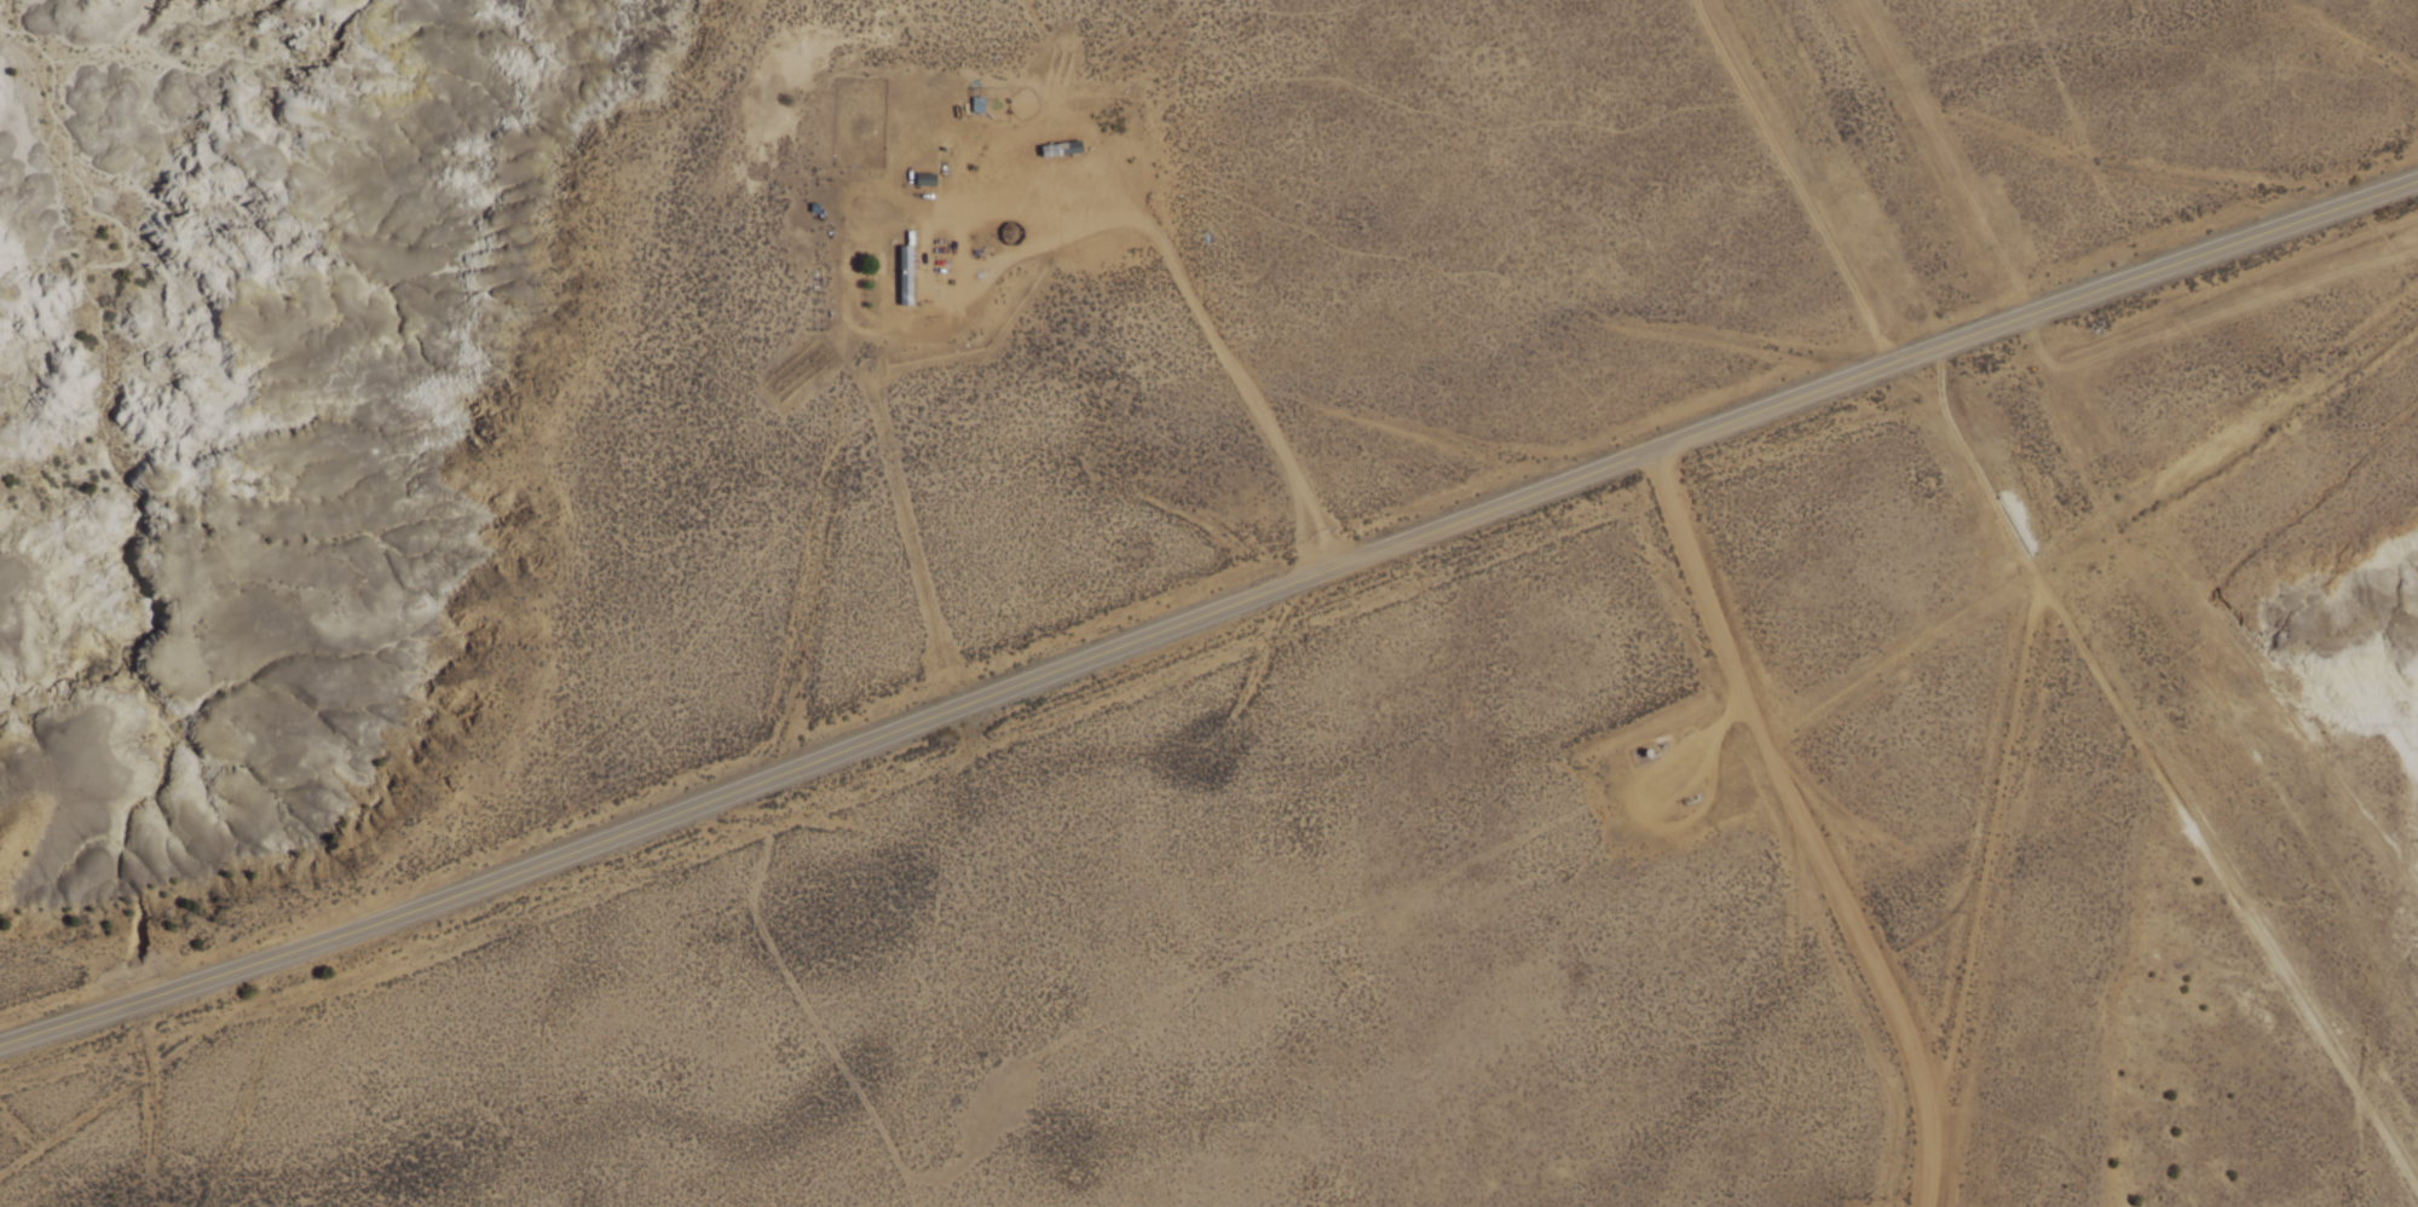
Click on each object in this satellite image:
building: (1063, 151)
building: (906, 277)
road: (1208, 613)
road: (2157, 778)
road: (1799, 827)

